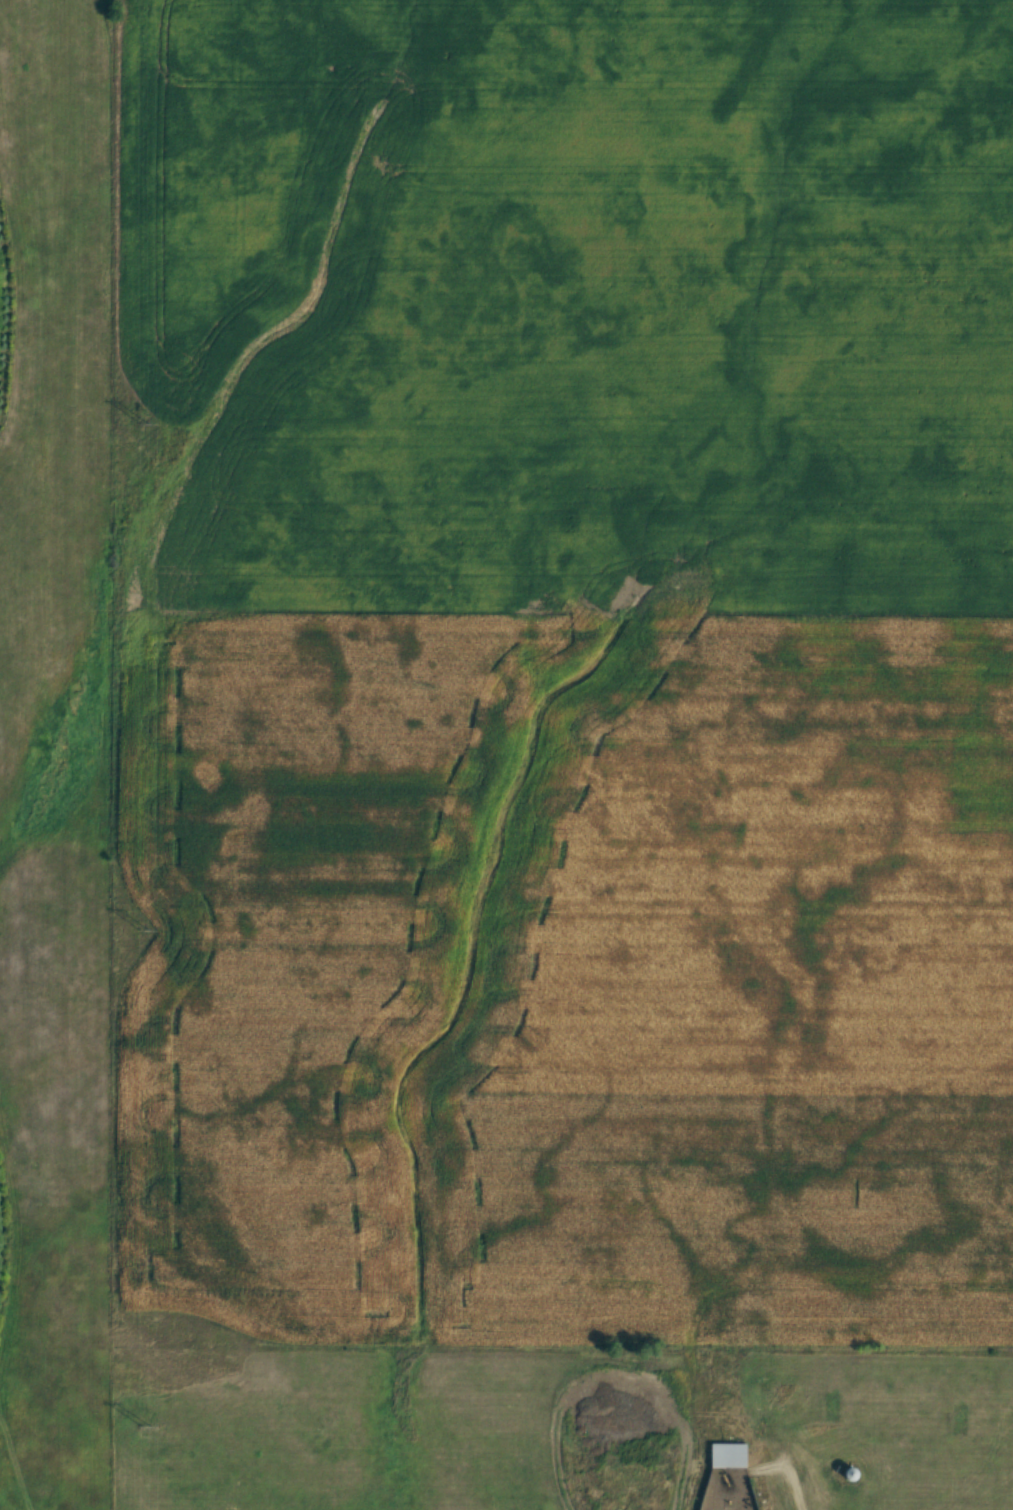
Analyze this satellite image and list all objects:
power tower: (148, 425)
power tower: (146, 933)
power tower: (145, 1420)
building: (729, 1456)
building: (853, 1475)
road: (795, 1478)

